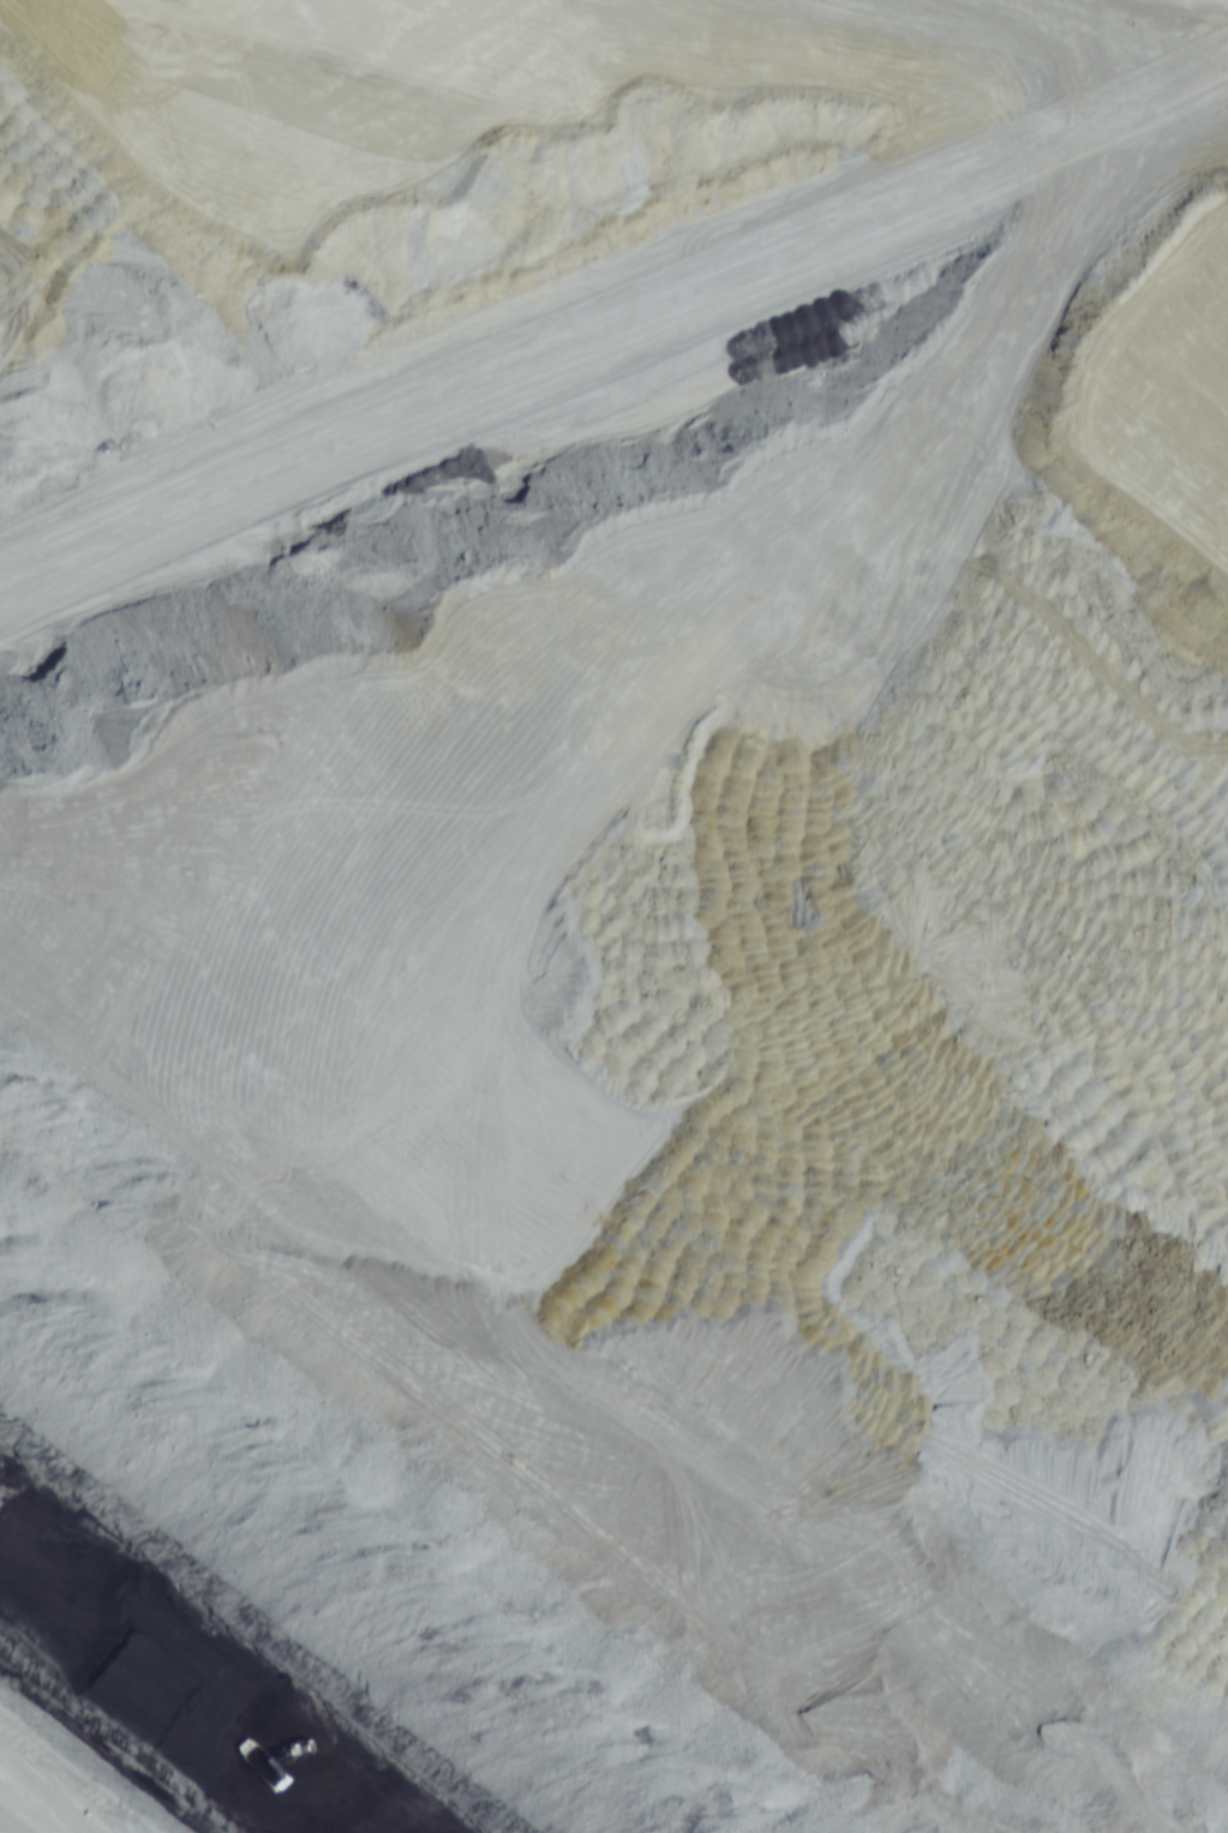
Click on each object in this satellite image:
road: (613, 1673)

